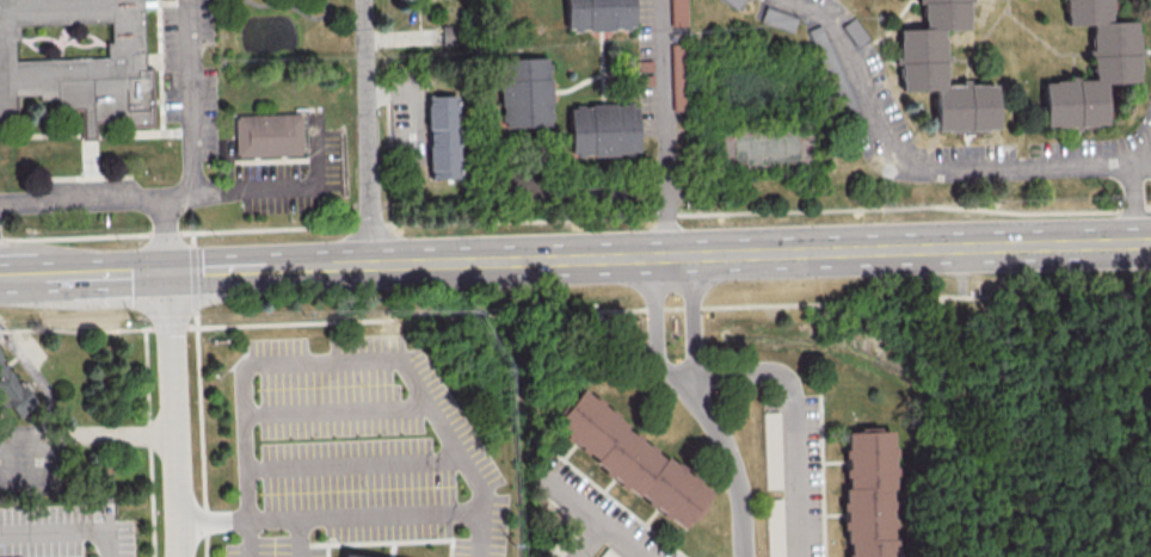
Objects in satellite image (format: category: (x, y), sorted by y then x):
road: (294, 7)
building: (1087, 11)
building: (678, 12)
building: (598, 14)
building: (943, 14)
road: (1038, 37)
road: (43, 38)
road: (979, 42)
road: (63, 43)
road: (85, 45)
building: (1113, 51)
road: (958, 57)
building: (921, 58)
road: (1071, 63)
building: (78, 67)
building: (678, 75)
building: (524, 92)
building: (1075, 103)
road: (405, 104)
building: (965, 106)
road: (191, 112)
building: (603, 129)
road: (663, 130)
road: (367, 134)
building: (271, 136)
building: (443, 137)
park: (767, 150)
road: (924, 166)
road: (285, 188)
road: (122, 199)
road: (1134, 202)
road: (575, 219)
road: (595, 261)
road: (19, 280)
road: (577, 314)
road: (694, 317)
road: (651, 330)
road: (338, 360)
road: (35, 379)
building: (14, 390)
road: (339, 411)
road: (176, 415)
road: (793, 417)
road: (110, 434)
road: (150, 444)
building: (771, 450)
parking lot: (358, 451)
building: (630, 458)
road: (732, 462)
road: (358, 466)
building: (869, 493)
road: (596, 514)
road: (367, 516)
road: (216, 519)
building: (774, 527)
road: (66, 528)
parking lot: (64, 531)
road: (300, 537)
road: (589, 539)
building: (607, 553)
building: (351, 556)
building: (364, 556)

